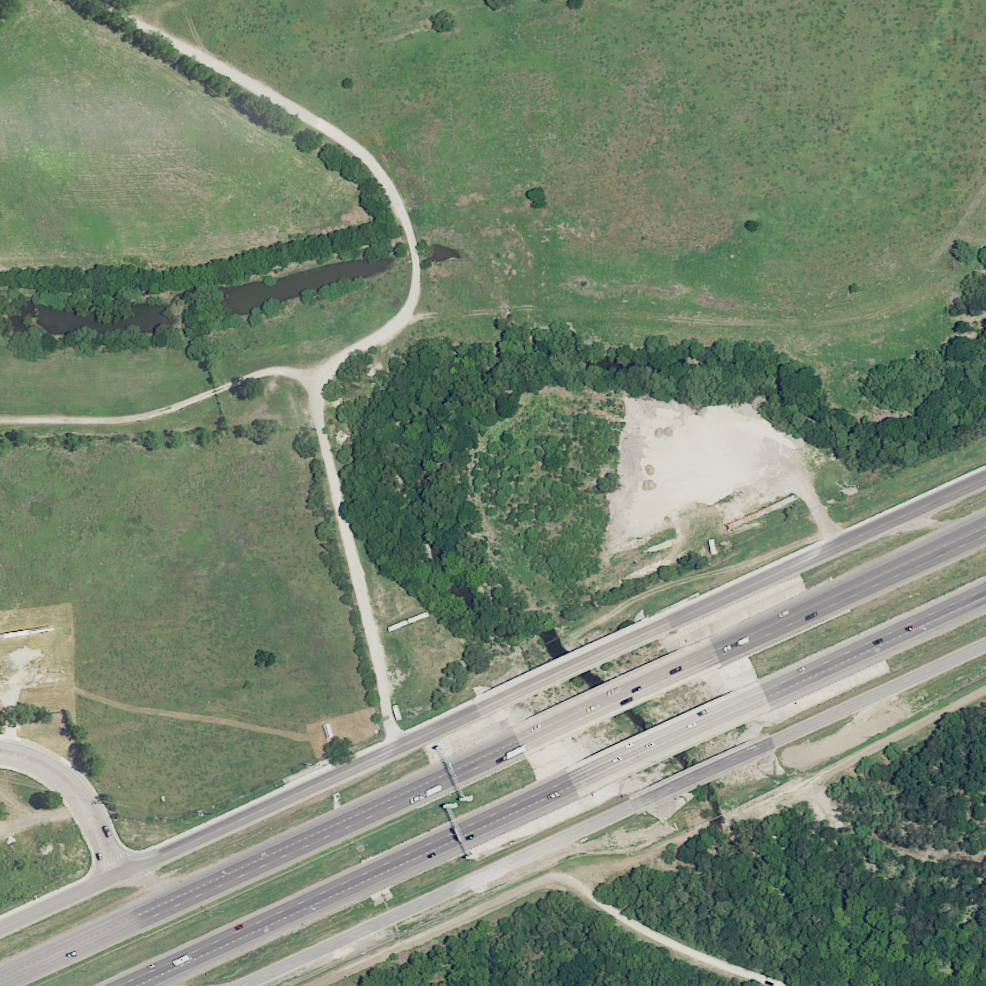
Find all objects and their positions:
road: (402, 314)
road: (163, 411)
road: (974, 536)
road: (974, 537)
road: (810, 559)
road: (824, 606)
road: (855, 652)
road: (570, 668)
road: (878, 696)
road: (625, 697)
road: (662, 738)
road: (703, 774)
road: (312, 787)
road: (79, 793)
road: (285, 856)
road: (358, 876)
road: (544, 881)
road: (437, 895)
road: (59, 903)

